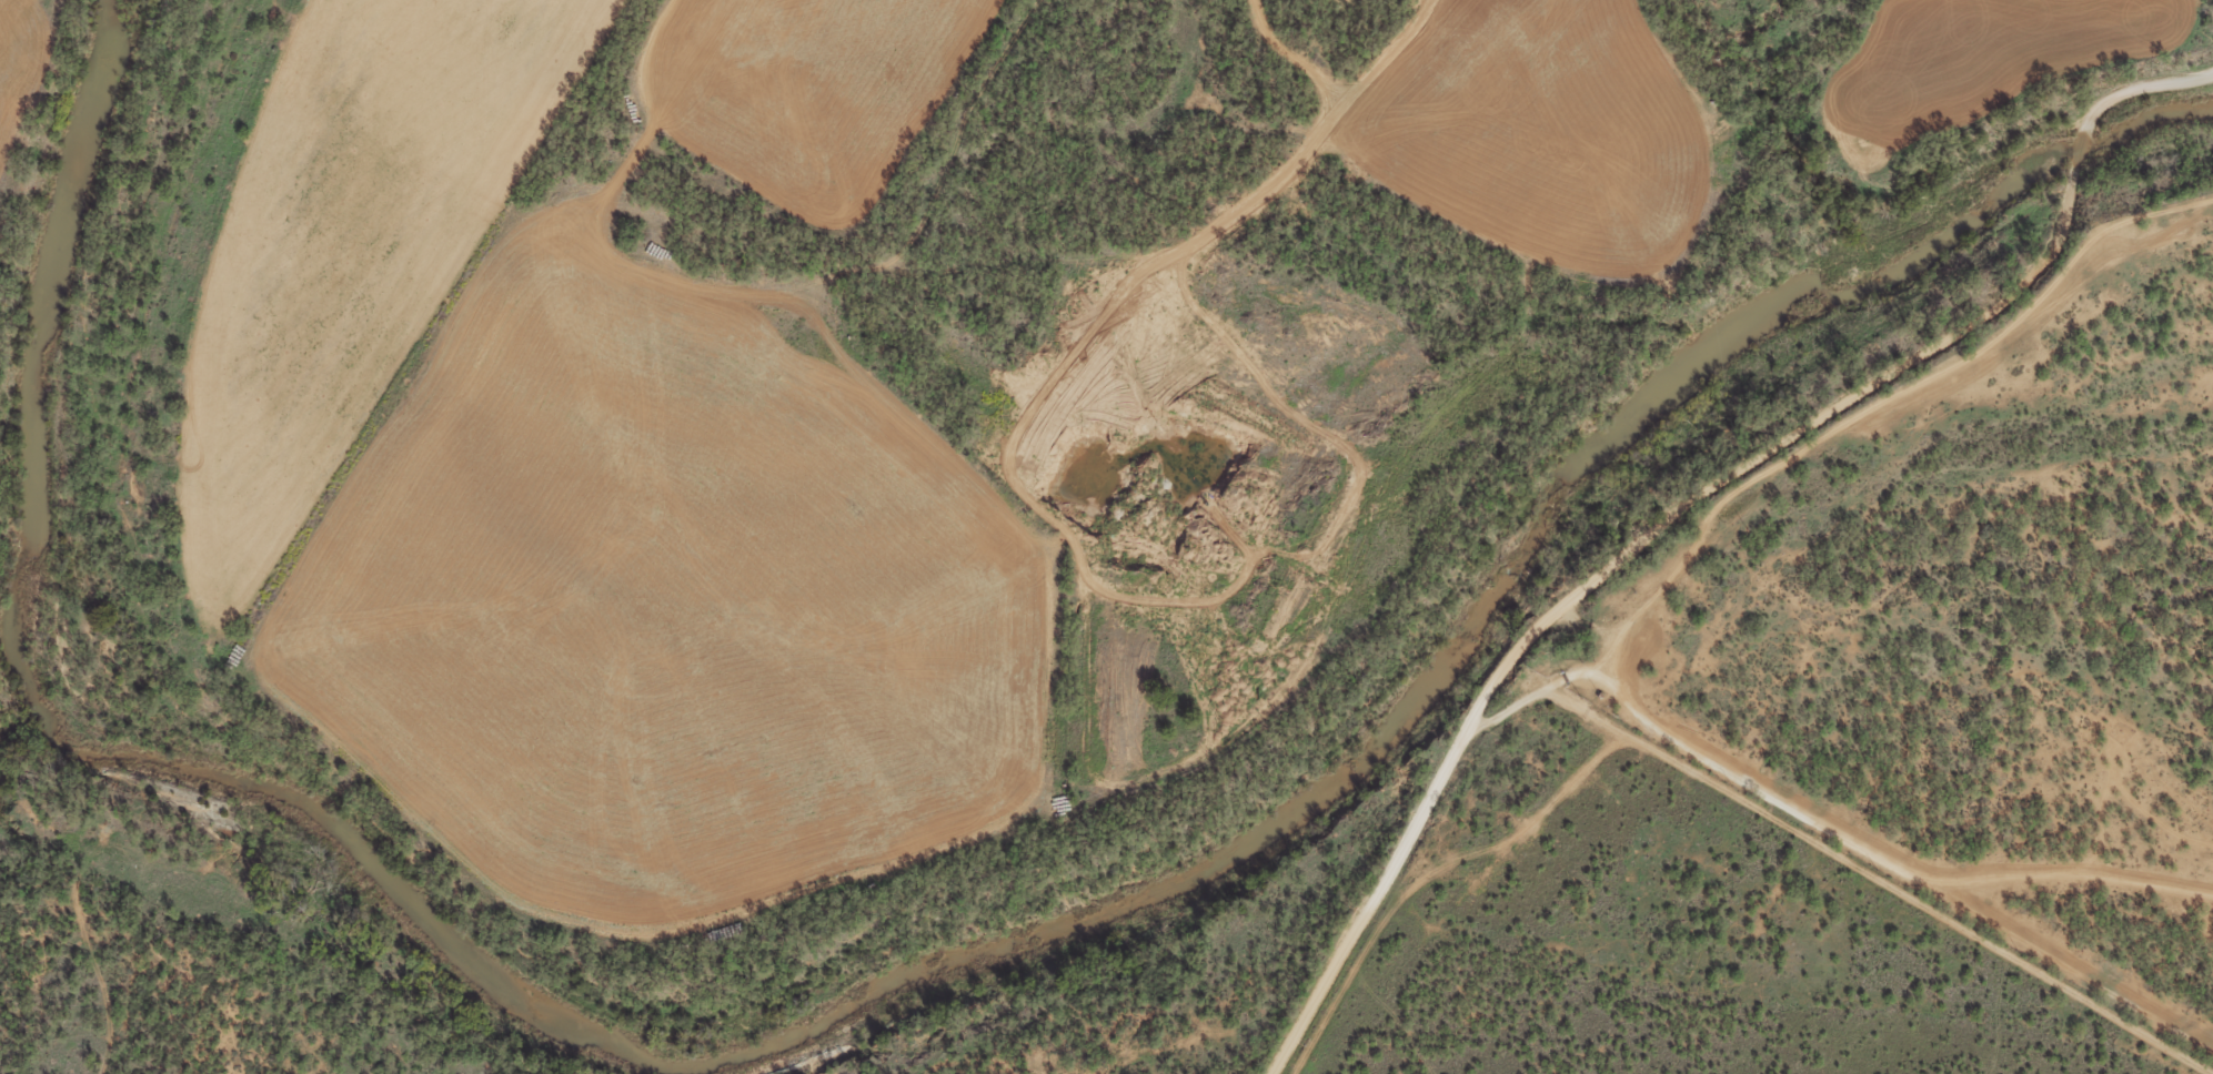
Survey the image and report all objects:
road: (1881, 145)
road: (1995, 364)
road: (1536, 682)
road: (1204, 778)
river: (864, 994)

